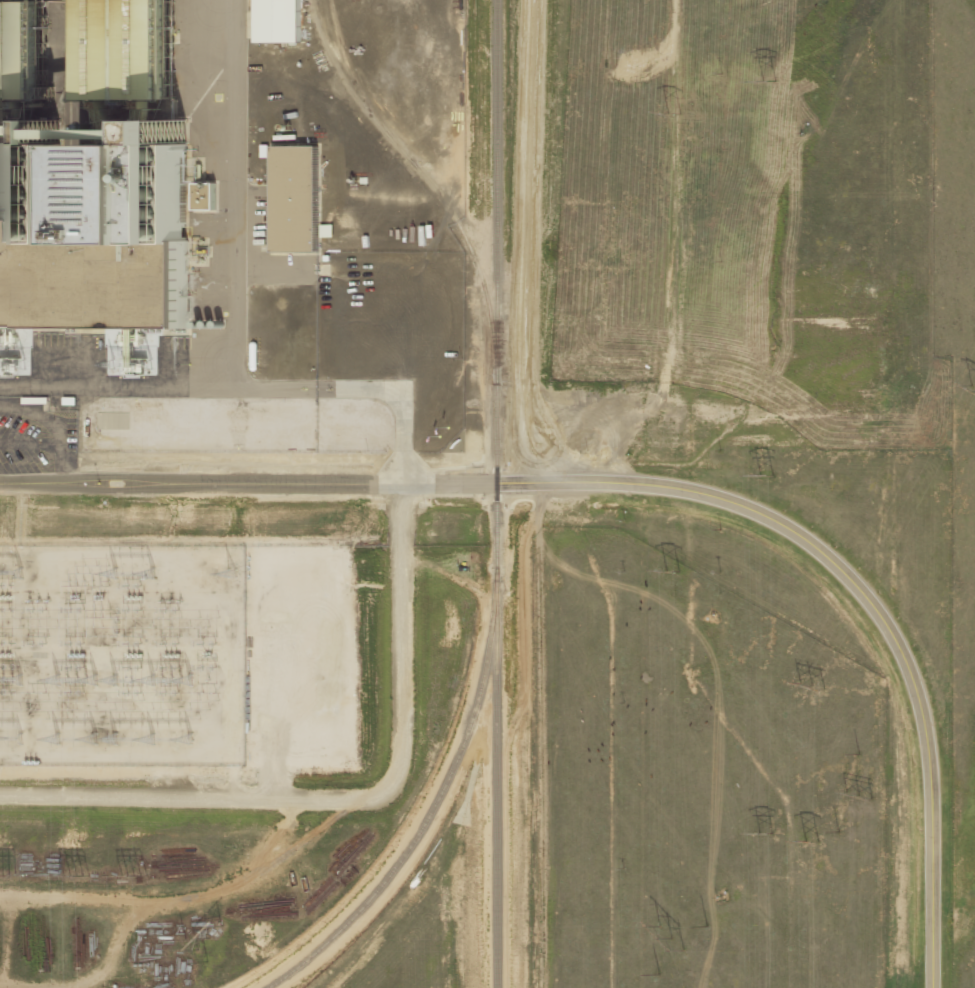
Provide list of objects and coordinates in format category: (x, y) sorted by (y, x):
building: (276, 22)
power tower: (758, 79)
railway: (360, 88)
power tower: (665, 113)
railway: (429, 184)
building: (202, 196)
building: (293, 198)
road: (235, 325)
flagpole: (496, 384)
flagpole: (447, 428)
flagpole: (439, 436)
power tower: (761, 477)
road: (649, 487)
railway: (492, 493)
power plant: (471, 494)
power tower: (667, 572)
power substation: (121, 655)
power tower: (807, 686)
power tower: (854, 795)
railway: (431, 805)
power tower: (758, 834)
power tower: (805, 841)
power tower: (72, 876)
power tower: (129, 877)
power tower: (206, 936)
power tower: (664, 939)

